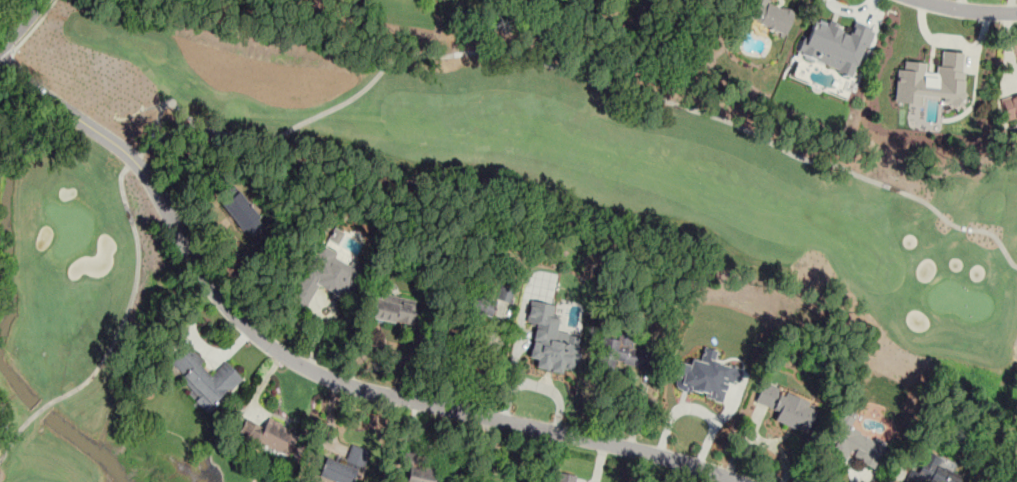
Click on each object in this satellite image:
road: (966, 9)
building: (768, 15)
road: (20, 24)
road: (34, 26)
building: (836, 45)
road: (5, 56)
road: (568, 72)
building: (932, 78)
building: (1010, 108)
road: (171, 131)
road: (133, 160)
building: (244, 214)
building: (336, 236)
park: (877, 246)
building: (322, 277)
building: (483, 305)
building: (392, 309)
road: (118, 334)
building: (551, 339)
road: (319, 340)
building: (619, 351)
road: (472, 365)
road: (307, 368)
building: (706, 376)
building: (205, 378)
road: (537, 387)
building: (786, 407)
building: (268, 436)
building: (853, 443)
park: (154, 460)
building: (346, 467)
building: (415, 470)
building: (934, 471)
building: (565, 477)

